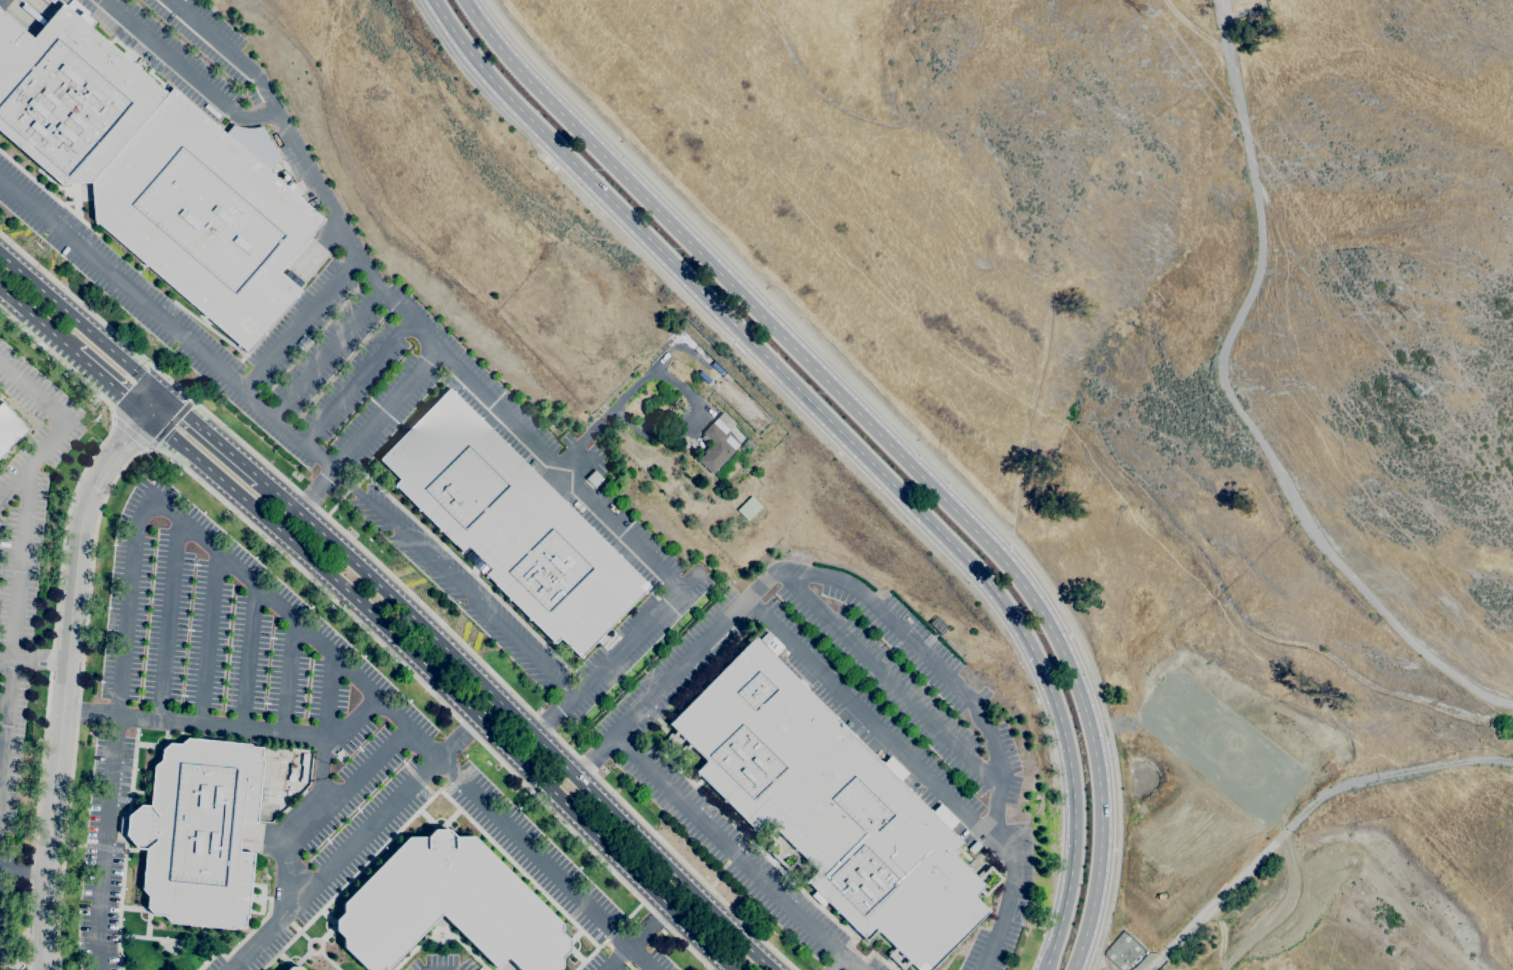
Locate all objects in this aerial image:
building: (52, 1)
power tower: (1146, 15)
road: (188, 71)
building: (156, 172)
road: (401, 313)
power tower: (1411, 317)
road: (37, 321)
road: (301, 323)
road: (82, 326)
building: (683, 340)
road: (327, 355)
road: (357, 383)
road: (111, 385)
power tower: (1416, 392)
road: (623, 397)
road: (1234, 403)
building: (715, 412)
road: (170, 422)
road: (61, 429)
building: (10, 430)
road: (131, 432)
road: (368, 432)
road: (292, 433)
building: (545, 435)
road: (907, 436)
road: (213, 438)
road: (883, 438)
road: (850, 442)
building: (718, 443)
building: (526, 457)
building: (594, 478)
building: (748, 501)
road: (237, 515)
building: (511, 524)
road: (233, 565)
road: (407, 591)
road: (57, 609)
road: (169, 618)
road: (902, 634)
parking lot: (204, 637)
road: (210, 638)
building: (771, 643)
road: (15, 647)
road: (616, 656)
road: (248, 657)
road: (32, 661)
road: (65, 668)
road: (287, 676)
road: (887, 677)
road: (446, 686)
road: (5, 701)
road: (520, 722)
road: (225, 727)
road: (327, 729)
road: (881, 730)
road: (3, 742)
road: (595, 757)
building: (303, 767)
building: (291, 774)
road: (2, 782)
building: (290, 792)
road: (1311, 805)
road: (316, 806)
building: (831, 806)
building: (198, 832)
road: (357, 844)
building: (974, 847)
road: (735, 855)
road: (22, 871)
road: (1216, 901)
building: (447, 907)
road: (636, 938)
road: (445, 965)
road: (839, 965)
building: (294, 968)

